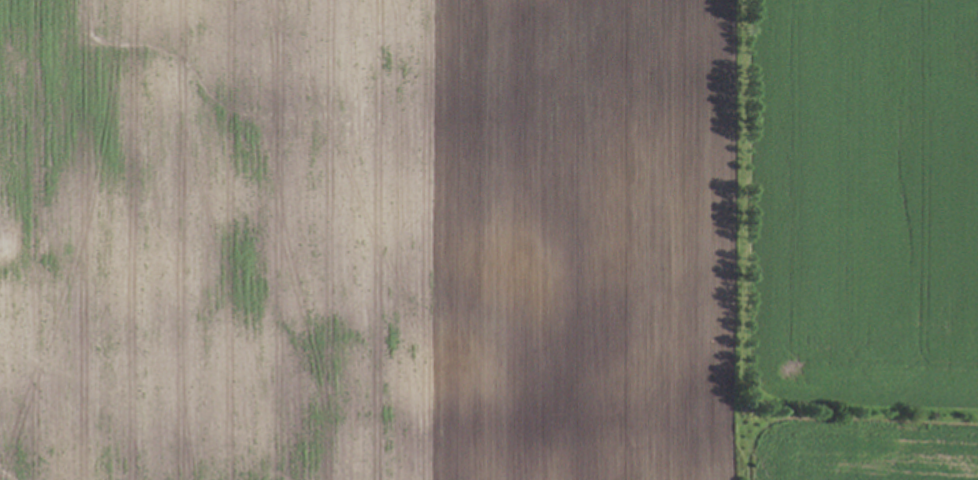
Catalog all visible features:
crop: (489, 240)

